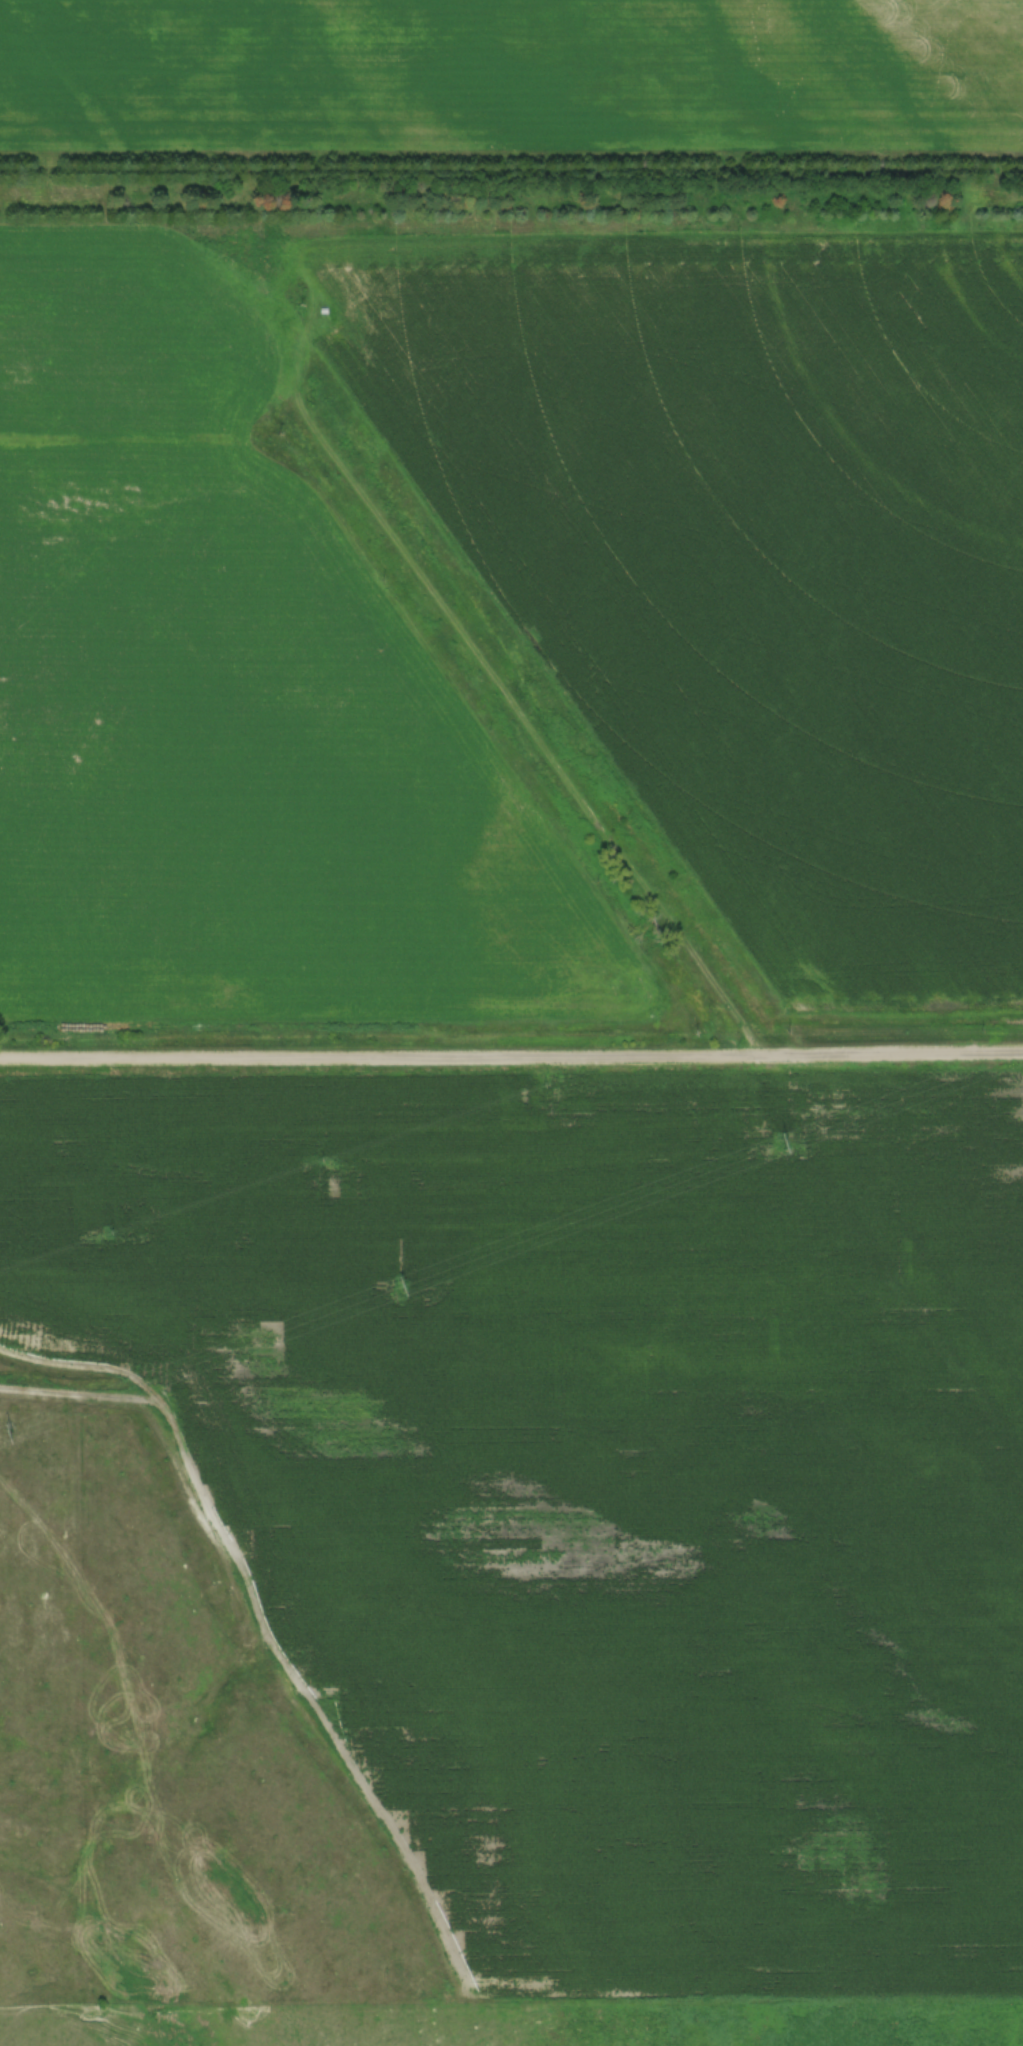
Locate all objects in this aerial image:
road: (511, 1055)
power tower: (786, 1143)
power tower: (404, 1286)
power tower: (11, 1434)

